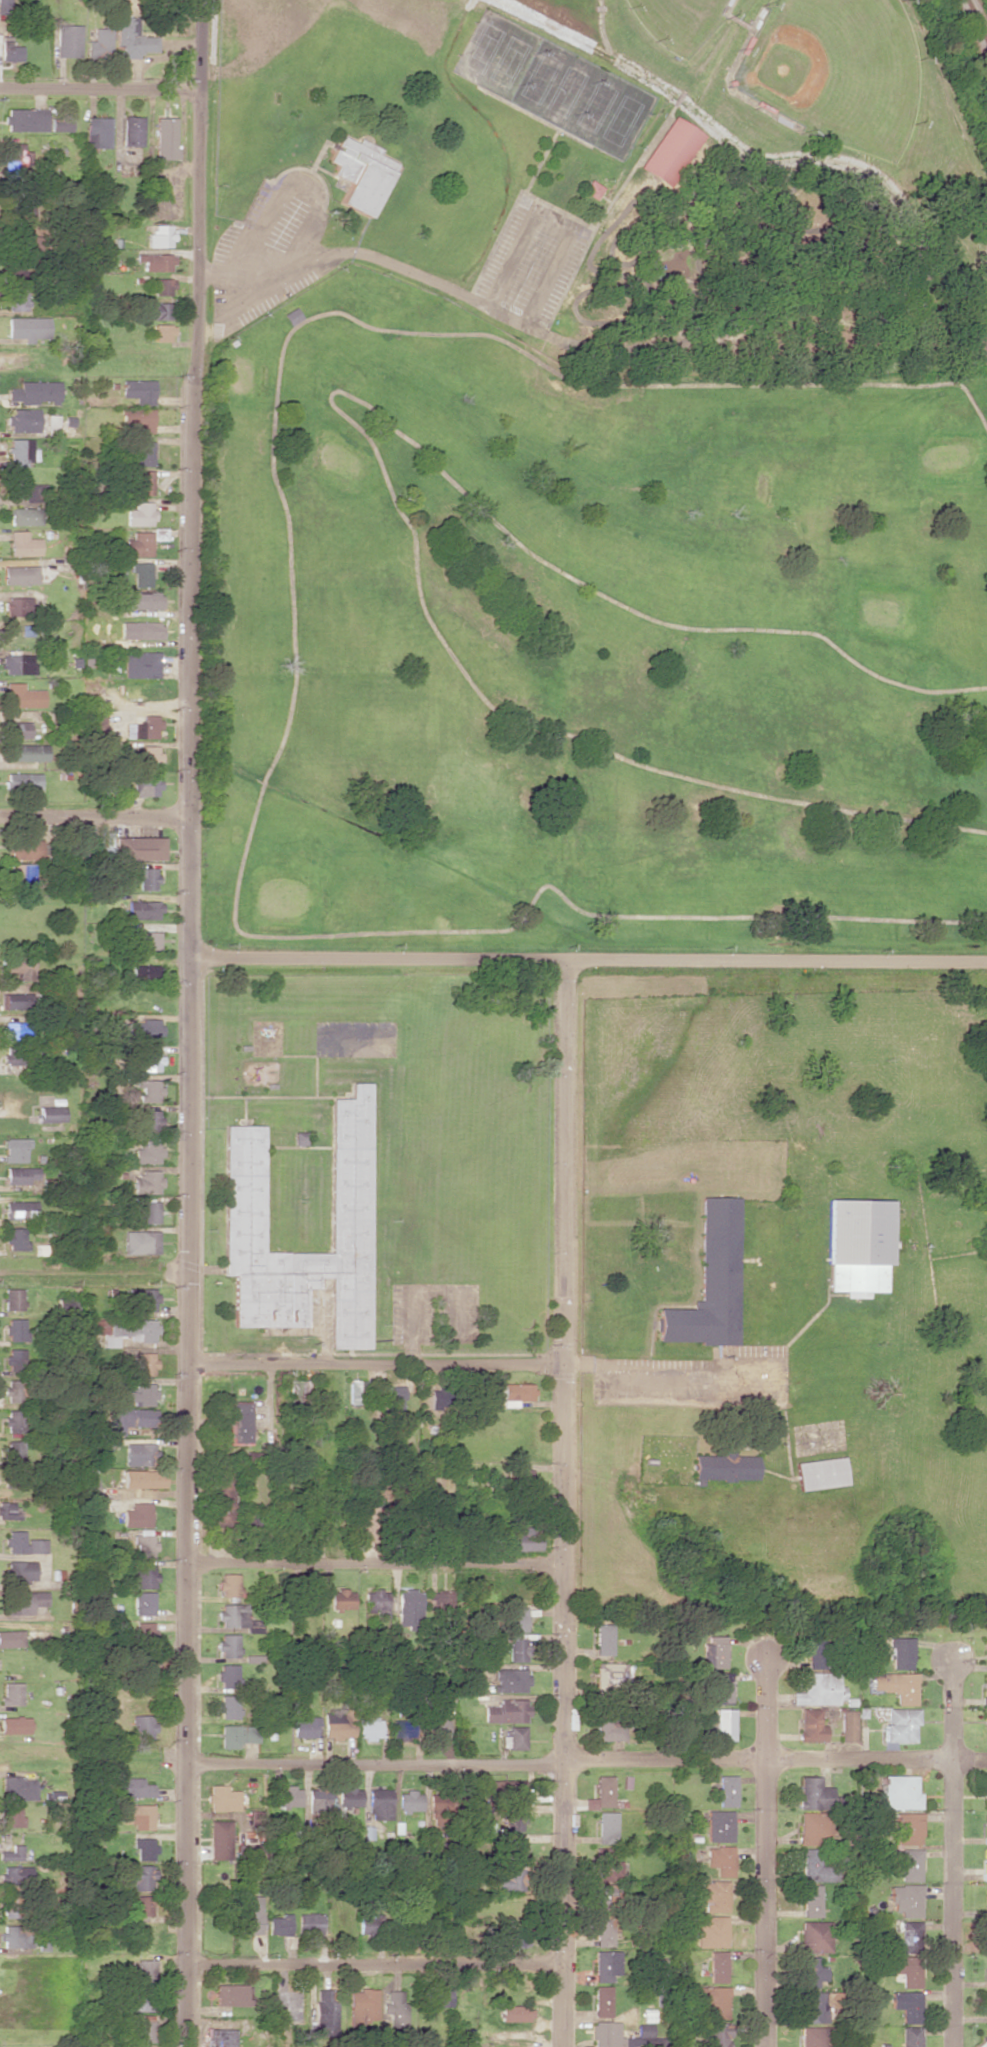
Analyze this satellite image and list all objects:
building: (4, 6)
railway: (976, 20)
park: (677, 21)
road: (600, 25)
building: (132, 39)
building: (68, 40)
building: (99, 41)
road: (200, 46)
park: (484, 48)
building: (10, 50)
park: (509, 61)
park: (835, 71)
park: (540, 77)
road: (100, 91)
park: (565, 91)
park: (594, 106)
park: (620, 119)
building: (25, 120)
building: (61, 124)
building: (132, 130)
building: (98, 132)
building: (166, 138)
building: (672, 151)
building: (359, 174)
building: (591, 189)
building: (23, 211)
building: (159, 236)
building: (28, 245)
building: (155, 261)
building: (162, 286)
building: (15, 297)
building: (157, 310)
building: (26, 328)
building: (162, 332)
building: (138, 390)
building: (37, 392)
building: (22, 420)
building: (136, 420)
building: (51, 423)
building: (21, 452)
building: (143, 453)
building: (141, 482)
building: (35, 492)
building: (140, 514)
building: (24, 516)
building: (23, 544)
building: (138, 544)
building: (141, 574)
building: (20, 575)
building: (141, 600)
building: (16, 606)
building: (148, 630)
building: (17, 664)
building: (142, 664)
building: (22, 696)
building: (17, 729)
building: (25, 752)
building: (22, 781)
building: (145, 784)
road: (94, 819)
building: (29, 848)
building: (137, 848)
building: (23, 875)
building: (146, 878)
building: (142, 910)
building: (143, 940)
road: (589, 956)
building: (144, 973)
building: (15, 1000)
building: (15, 1030)
building: (143, 1030)
building: (11, 1054)
building: (148, 1062)
road: (191, 1069)
building: (148, 1090)
building: (50, 1114)
building: (148, 1121)
building: (15, 1149)
building: (146, 1151)
building: (19, 1174)
building: (146, 1182)
building: (351, 1188)
building: (20, 1210)
building: (148, 1212)
building: (16, 1238)
building: (140, 1242)
building: (856, 1244)
building: (39, 1249)
road: (95, 1275)
building: (710, 1280)
building: (13, 1299)
building: (139, 1299)
building: (14, 1329)
building: (125, 1331)
building: (13, 1360)
building: (145, 1363)
road: (377, 1366)
building: (12, 1390)
building: (299, 1391)
building: (356, 1391)
building: (517, 1393)
building: (138, 1394)
building: (436, 1398)
building: (393, 1399)
building: (126, 1419)
building: (14, 1421)
building: (237, 1422)
building: (14, 1451)
building: (138, 1454)
building: (726, 1466)
building: (821, 1473)
building: (142, 1479)
building: (16, 1480)
building: (90, 1483)
building: (222, 1498)
road: (563, 1501)
building: (9, 1511)
building: (137, 1515)
building: (252, 1527)
building: (528, 1538)
building: (22, 1543)
building: (144, 1545)
road: (775, 1555)
road: (375, 1563)
building: (20, 1571)
building: (145, 1575)
building: (228, 1585)
building: (341, 1598)
building: (23, 1602)
building: (376, 1602)
building: (144, 1603)
building: (442, 1604)
building: (409, 1608)
building: (232, 1615)
building: (515, 1618)
building: (145, 1632)
building: (10, 1638)
building: (603, 1639)
building: (228, 1645)
building: (986, 1647)
building: (515, 1649)
building: (714, 1651)
building: (901, 1652)
building: (817, 1653)
building: (228, 1676)
building: (612, 1676)
building: (510, 1680)
building: (896, 1686)
building: (720, 1688)
building: (819, 1689)
building: (984, 1689)
building: (11, 1693)
building: (228, 1706)
building: (506, 1711)
building: (985, 1717)
building: (339, 1724)
building: (723, 1724)
building: (14, 1725)
building: (810, 1725)
building: (848, 1725)
building: (437, 1726)
building: (899, 1726)
building: (143, 1727)
building: (306, 1727)
building: (368, 1728)
building: (402, 1729)
building: (607, 1729)
building: (238, 1735)
building: (513, 1737)
road: (569, 1759)
building: (17, 1788)
building: (134, 1788)
building: (505, 1788)
building: (602, 1790)
building: (726, 1790)
building: (899, 1792)
building: (288, 1796)
building: (349, 1796)
building: (223, 1798)
building: (314, 1801)
building: (409, 1801)
building: (985, 1801)
building: (442, 1803)
building: (379, 1804)
building: (11, 1815)
building: (138, 1815)
building: (513, 1821)
building: (719, 1826)
building: (605, 1827)
building: (812, 1827)
building: (907, 1828)
building: (986, 1828)
building: (220, 1839)
building: (143, 1848)
building: (512, 1848)
road: (765, 1851)
road: (950, 1852)
building: (10, 1855)
building: (719, 1859)
building: (603, 1864)
building: (909, 1864)
building: (985, 1864)
building: (814, 1866)
building: (14, 1874)
building: (136, 1876)
building: (510, 1880)
building: (604, 1895)
building: (714, 1896)
building: (811, 1900)
building: (905, 1900)
building: (985, 1901)
building: (138, 1905)
building: (6, 1908)
building: (249, 1914)
building: (309, 1923)
building: (279, 1925)
building: (368, 1925)
building: (602, 1930)
building: (711, 1931)
building: (13, 1936)
building: (814, 1936)
building: (909, 1936)
building: (985, 1936)
building: (512, 1938)
road: (375, 1965)
building: (605, 1965)
building: (717, 1966)
building: (144, 1969)
building: (905, 1969)
building: (811, 1972)
building: (985, 1972)
building: (231, 1994)
building: (432, 1997)
building: (709, 1999)
building: (601, 2001)
building: (135, 2003)
building: (363, 2005)
building: (906, 2005)
building: (813, 2007)
building: (985, 2007)
building: (394, 2009)
building: (324, 2011)
building: (515, 2013)
building: (145, 2031)
building: (715, 2035)
building: (813, 2036)
building: (909, 2036)
building: (985, 2036)
building: (218, 2037)
building: (464, 2037)

